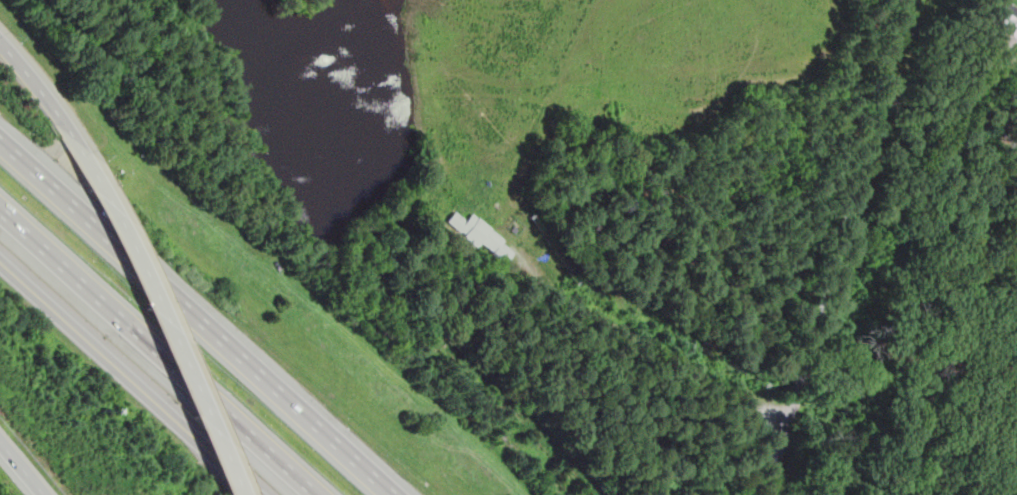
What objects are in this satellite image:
building: (1002, 23)
street lamp: (16, 33)
road: (37, 89)
street lamp: (104, 152)
road: (849, 213)
building: (515, 228)
building: (479, 232)
road: (158, 314)
road: (194, 318)
road: (650, 341)
road: (158, 352)
road: (129, 379)
street lamp: (96, 409)
road: (779, 459)
road: (21, 468)

